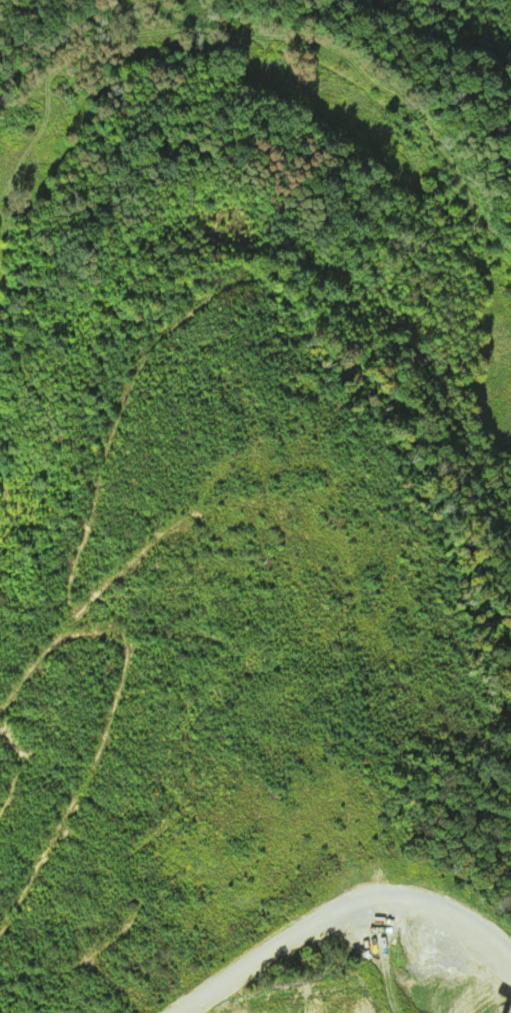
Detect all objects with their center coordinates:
road: (289, 59)
road: (330, 897)

